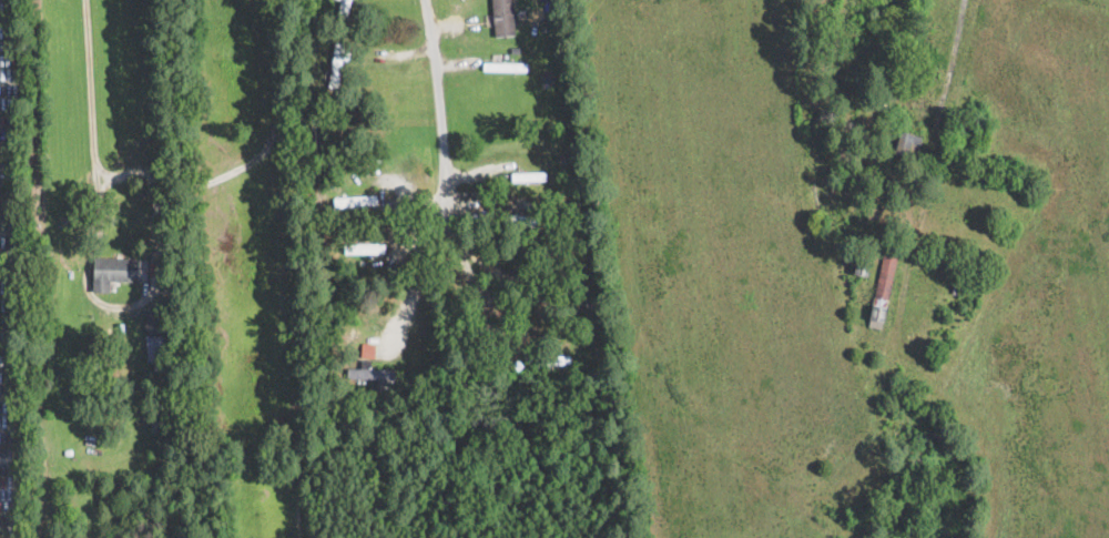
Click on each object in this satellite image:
building: (345, 9)
building: (501, 23)
building: (541, 27)
building: (857, 31)
building: (543, 35)
building: (930, 55)
building: (873, 58)
road: (952, 59)
building: (336, 65)
building: (505, 67)
building: (892, 78)
building: (546, 80)
building: (833, 82)
building: (525, 83)
building: (350, 122)
building: (318, 133)
building: (336, 138)
building: (908, 144)
building: (353, 145)
building: (562, 155)
road: (129, 173)
road: (444, 173)
building: (848, 174)
building: (528, 176)
building: (571, 181)
building: (886, 181)
building: (355, 201)
building: (868, 213)
building: (513, 219)
building: (365, 247)
building: (362, 261)
building: (369, 264)
building: (862, 267)
building: (115, 272)
road: (153, 287)
building: (883, 287)
building: (955, 288)
building: (559, 302)
building: (591, 303)
building: (581, 312)
building: (590, 321)
road: (502, 339)
building: (154, 348)
building: (553, 359)
building: (108, 362)
building: (334, 366)
building: (372, 373)
building: (549, 377)
building: (68, 449)
building: (89, 453)

